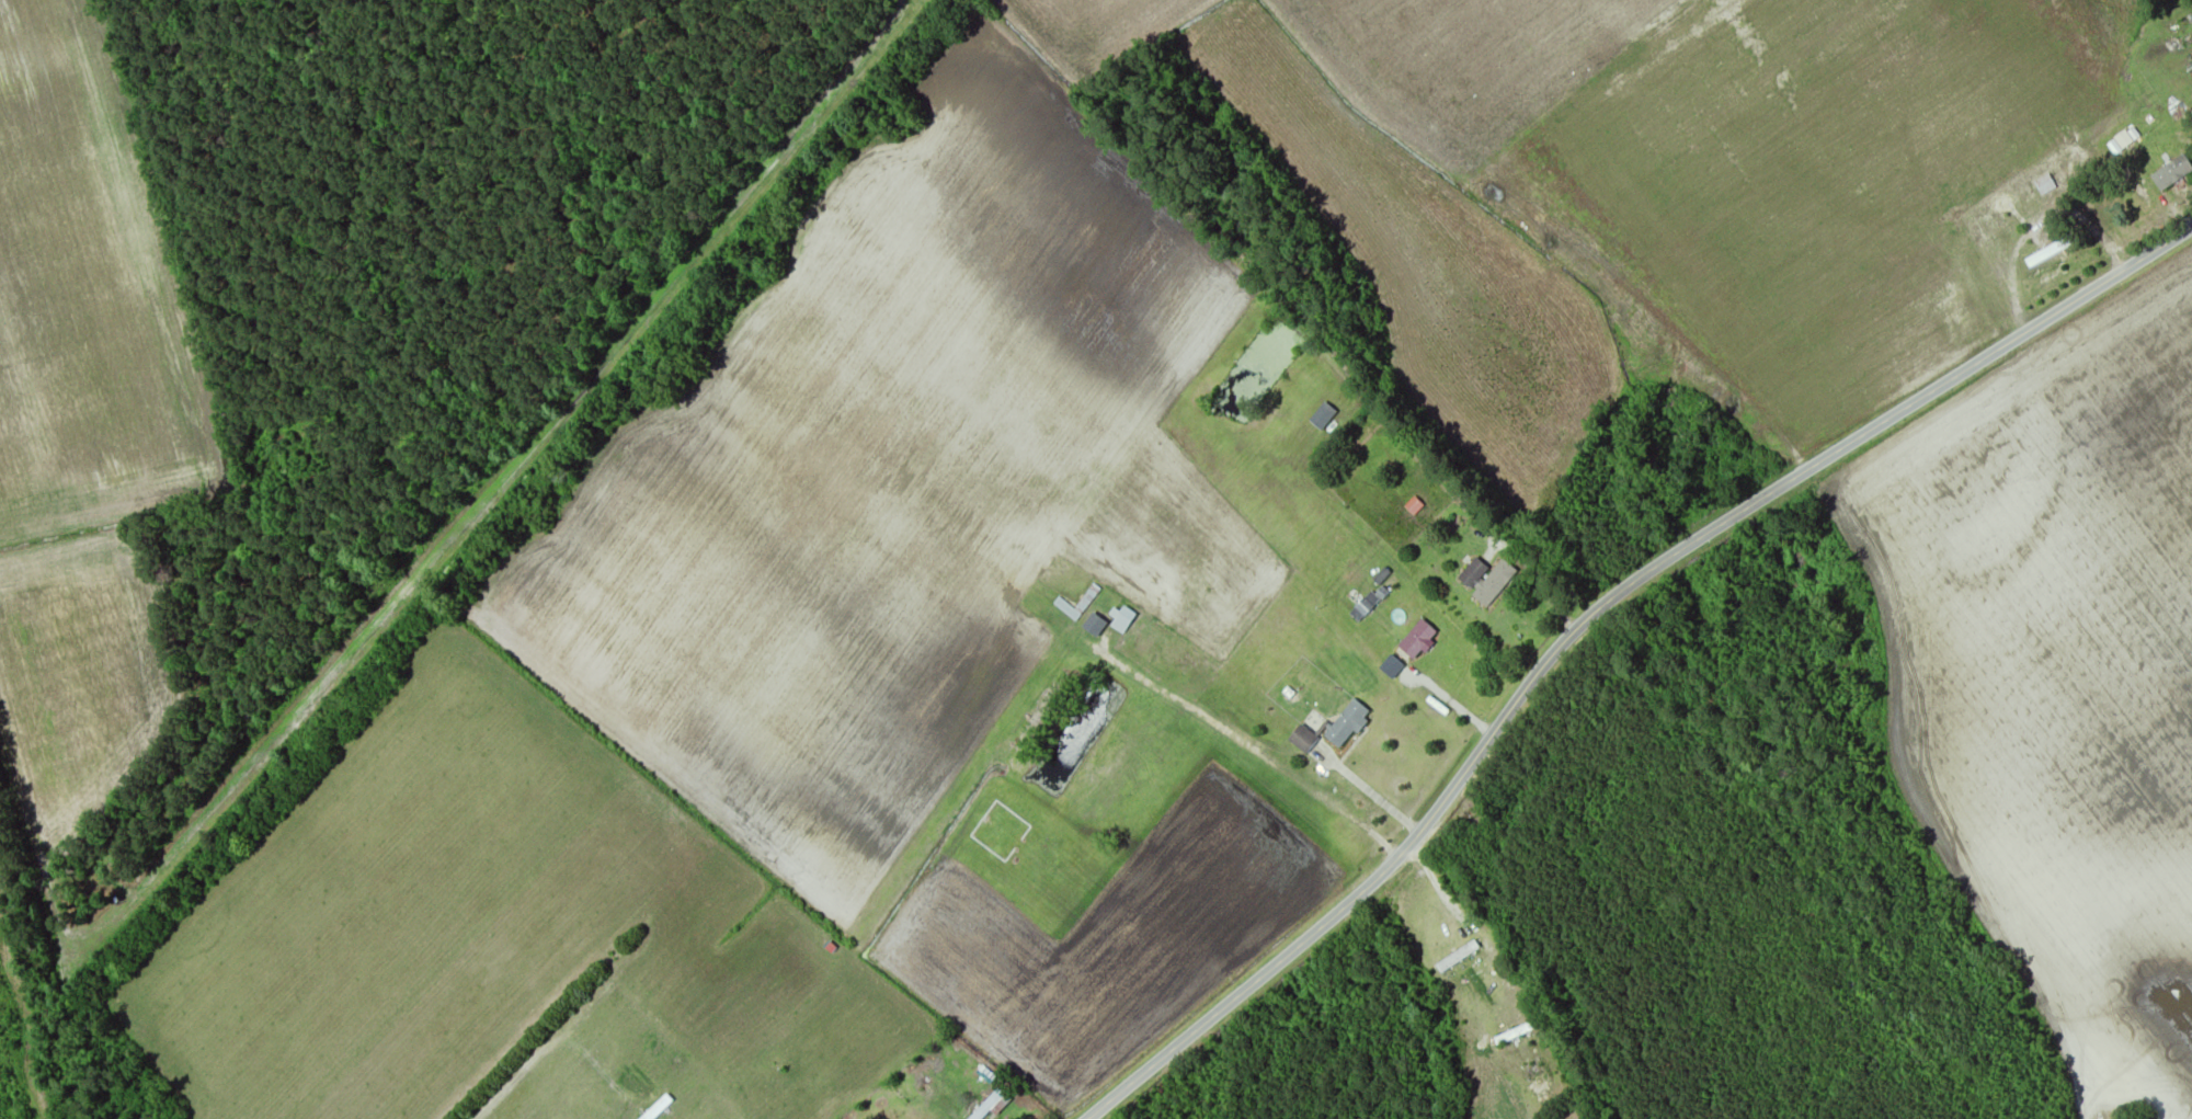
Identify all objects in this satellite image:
building: (2173, 173)
building: (2137, 204)
building: (2110, 246)
building: (2043, 256)
building: (1323, 415)
road: (438, 536)
road: (1540, 575)
building: (1486, 580)
building: (1078, 604)
building: (1365, 607)
road: (1585, 612)
building: (1123, 620)
building: (1094, 626)
building: (1417, 639)
road: (1453, 700)
building: (1347, 724)
building: (1303, 740)
road: (1253, 750)
road: (1375, 798)
road: (1453, 893)
building: (1458, 958)
building: (1514, 1035)
road: (535, 1053)
building: (993, 1107)

